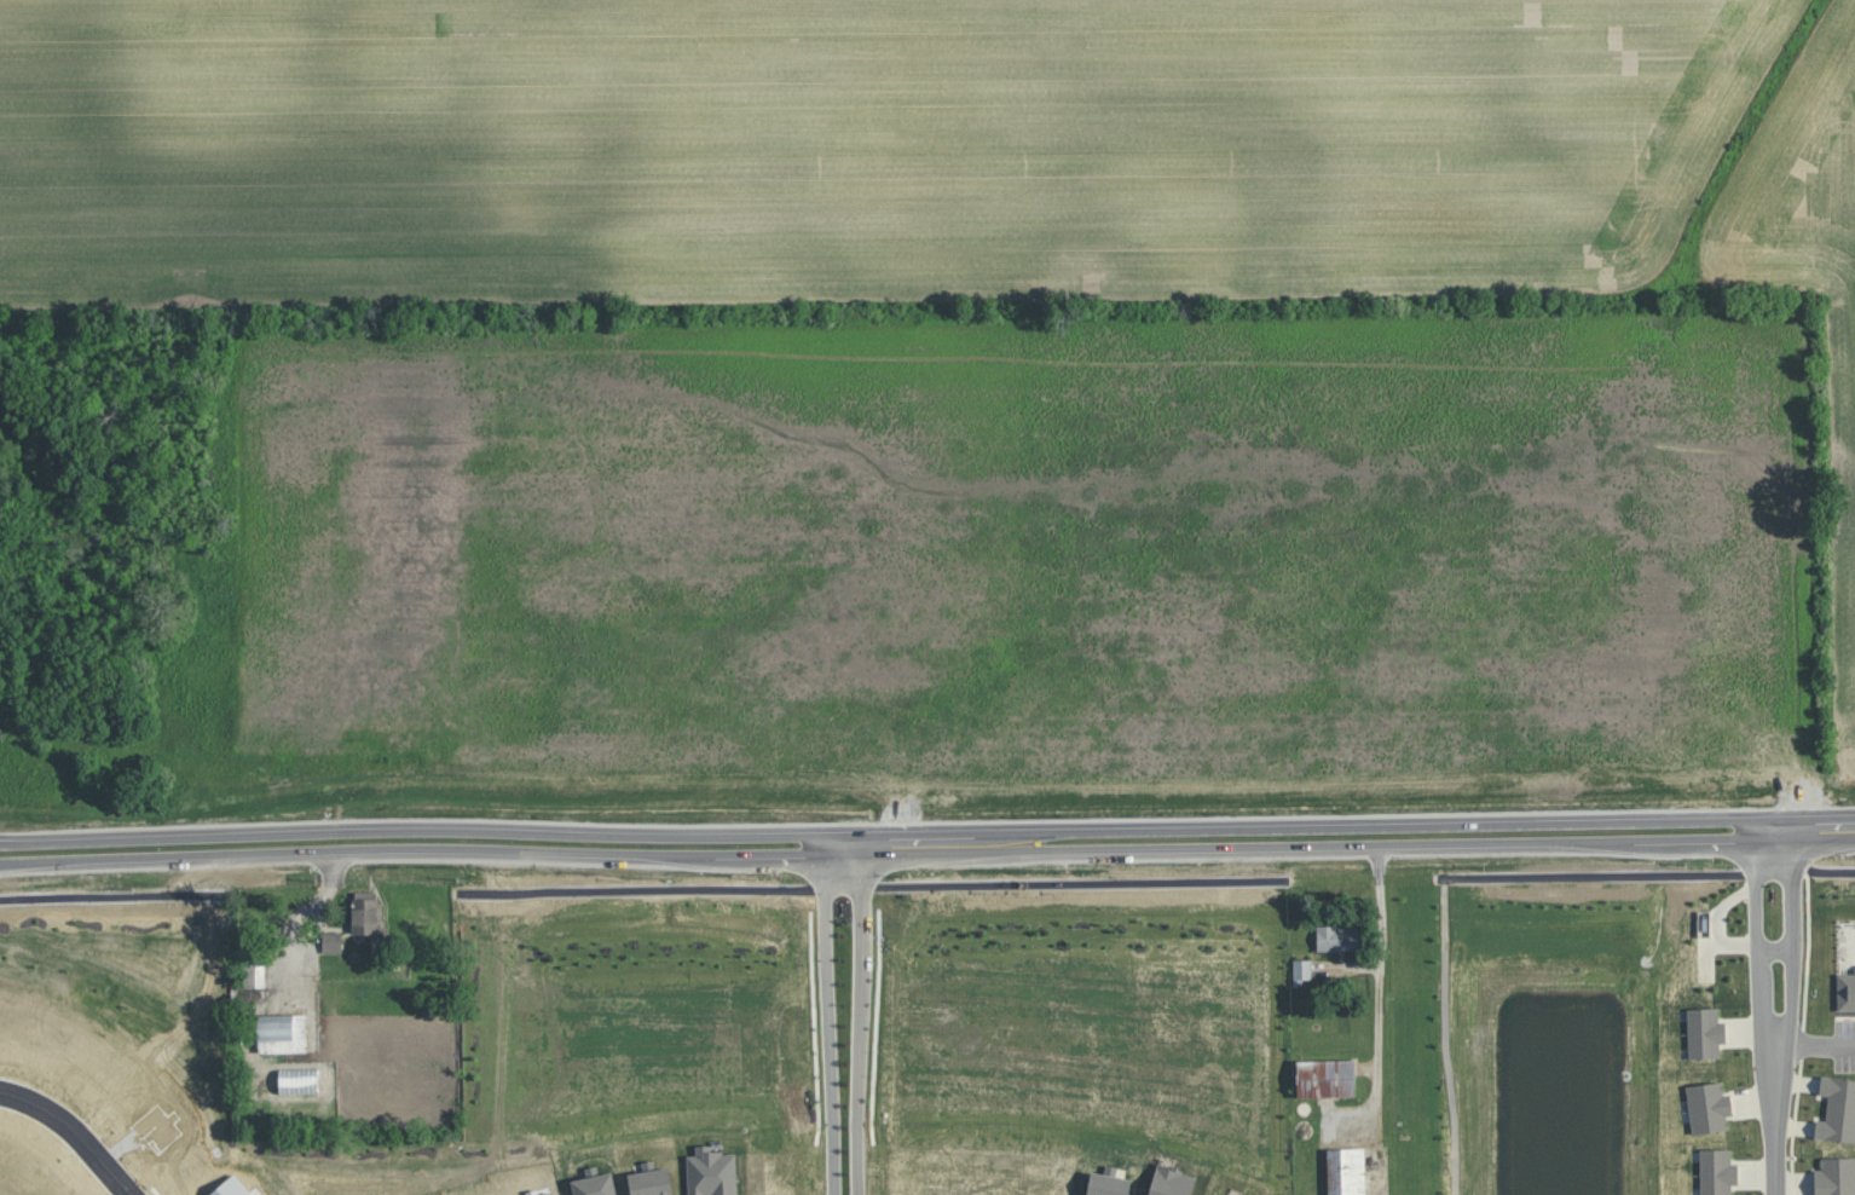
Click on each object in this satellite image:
road: (947, 842)
road: (19, 851)
road: (19, 855)
road: (1649, 874)
road: (872, 887)
road: (109, 897)
road: (1382, 912)
building: (364, 916)
road: (824, 926)
building: (1337, 937)
building: (331, 941)
building: (1302, 970)
road: (1755, 976)
road: (1784, 976)
building: (1845, 991)
road: (860, 1018)
building: (288, 1032)
building: (1704, 1032)
road: (1446, 1037)
road: (1805, 1041)
road: (1379, 1070)
building: (1325, 1078)
road: (832, 1103)
building: (1707, 1107)
building: (1837, 1109)
road: (81, 1127)
road: (1773, 1160)
building: (1345, 1171)
building: (1716, 1171)
building: (1834, 1176)
building: (651, 1182)
building: (1171, 1182)
building: (1108, 1183)
building: (1214, 1194)
building: (1238, 1194)

